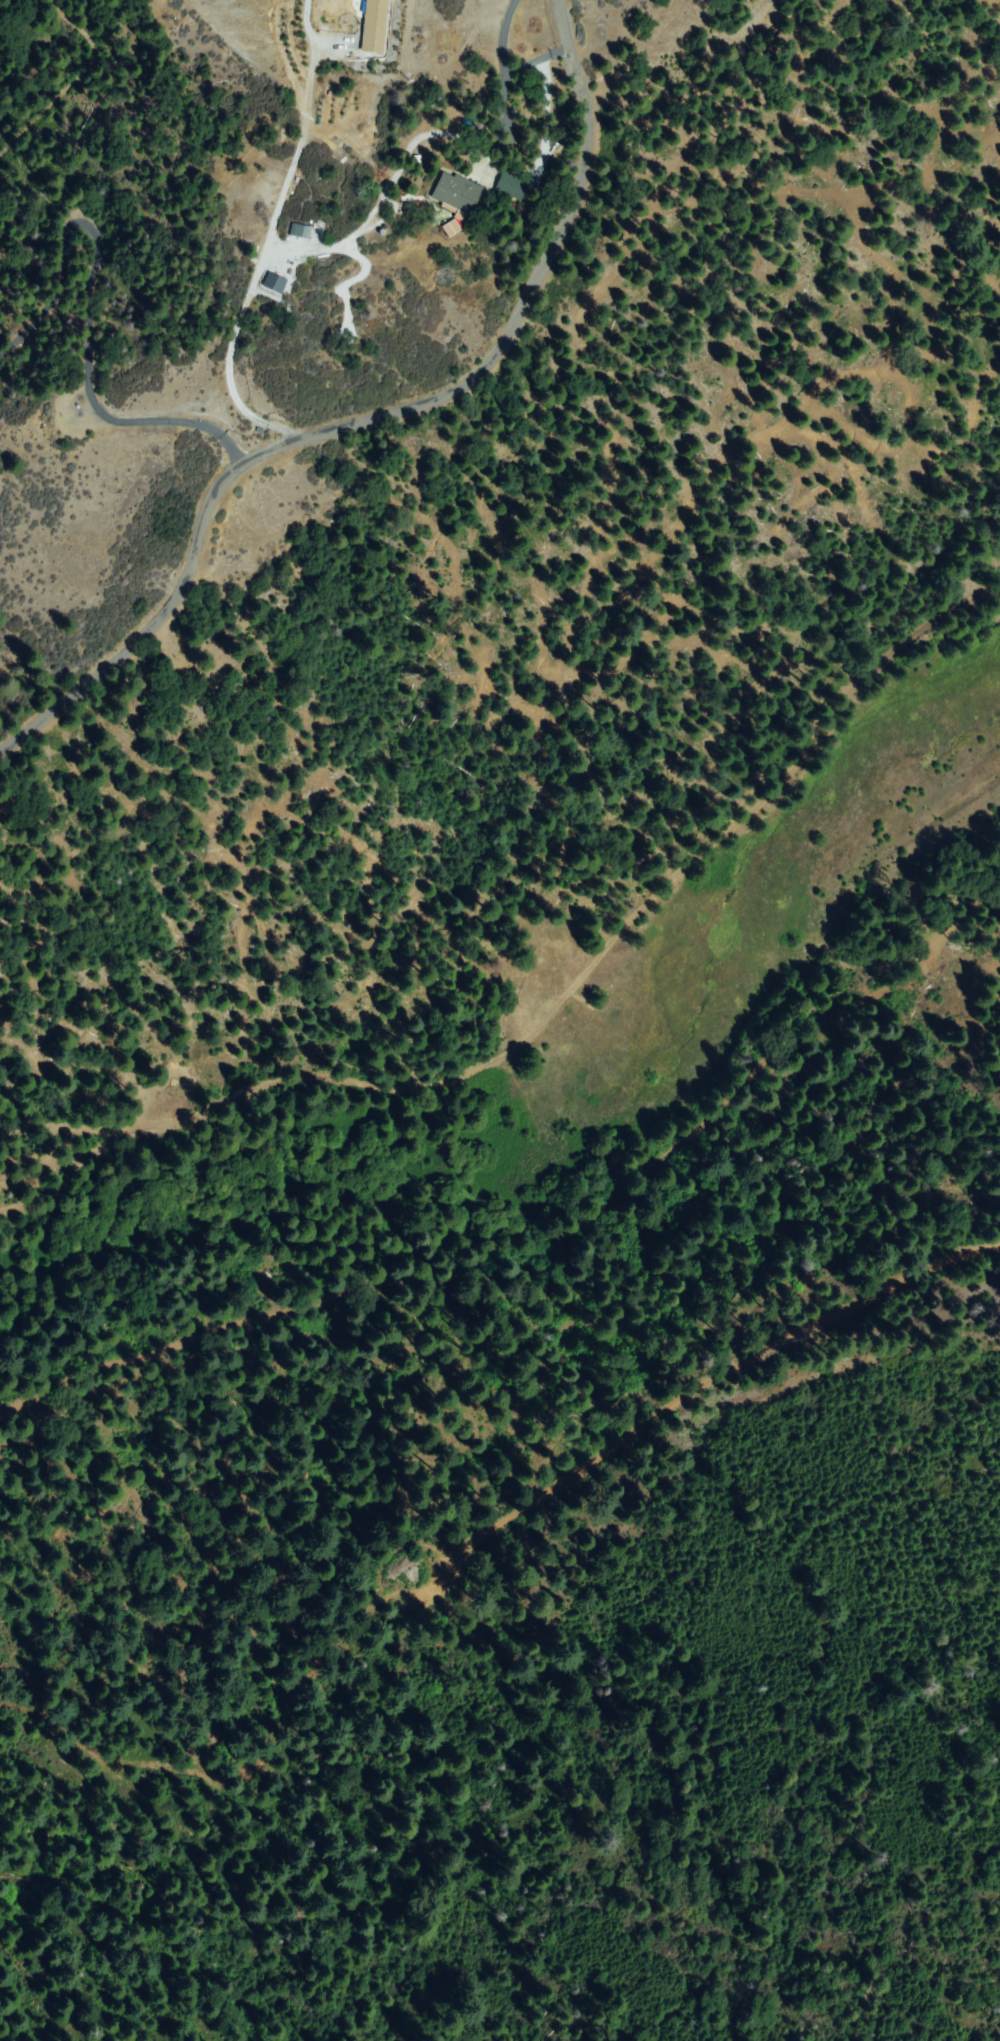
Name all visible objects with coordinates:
building: (375, 28)
building: (513, 187)
building: (458, 193)
road: (280, 350)
road: (373, 418)

